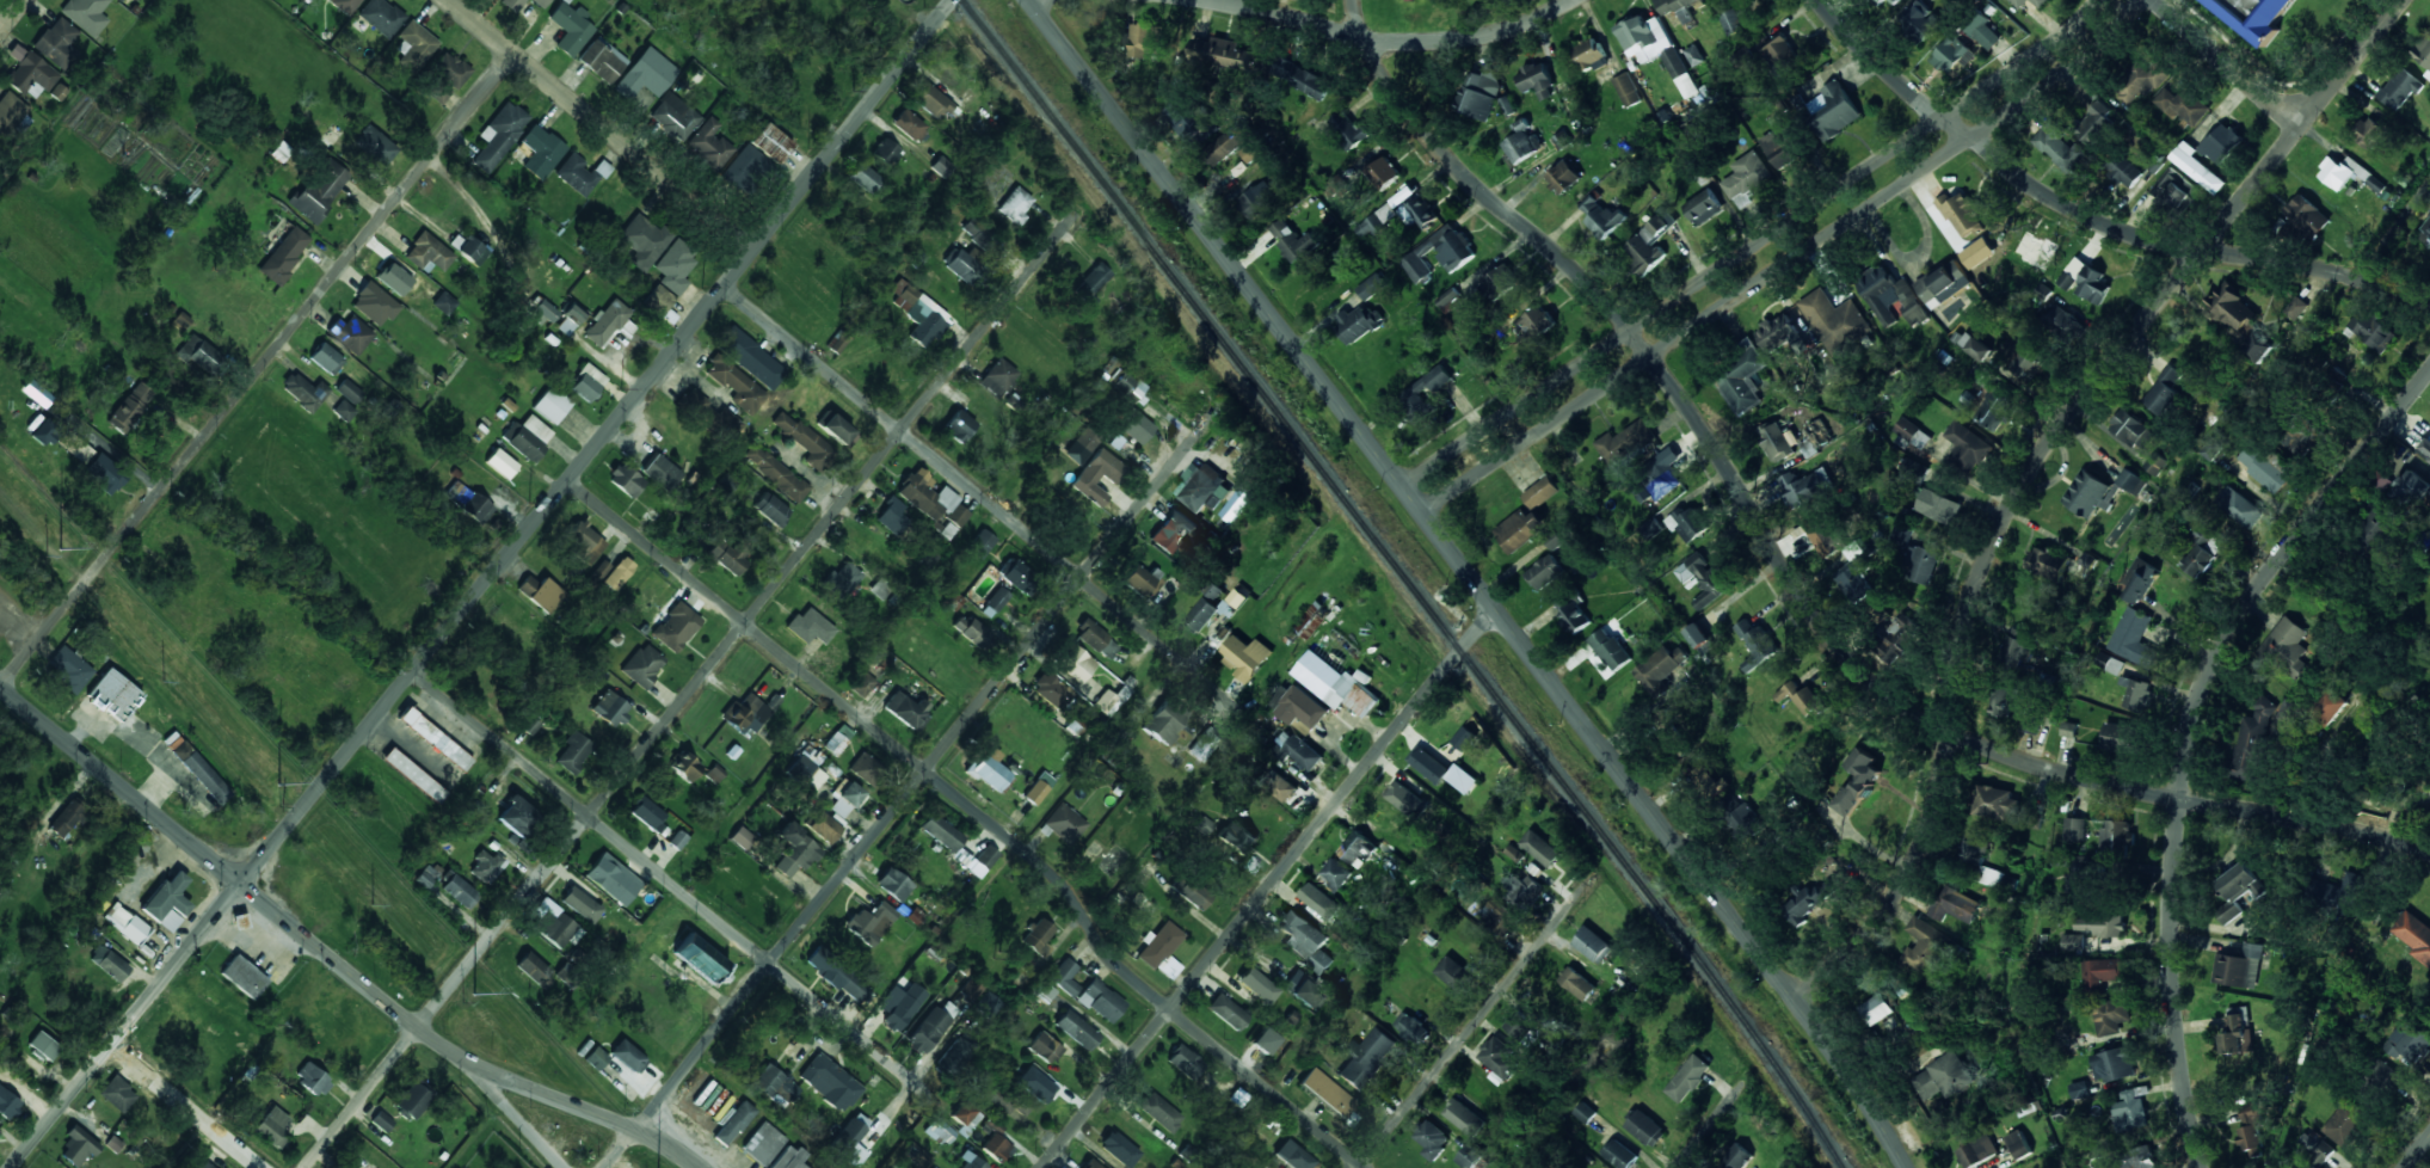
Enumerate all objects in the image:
building: (118, 0)
building: (1881, 0)
building: (1894, 1)
building: (541, 2)
road: (1039, 2)
building: (2019, 2)
building: (2038, 2)
building: (345, 5)
building: (512, 5)
building: (1678, 8)
building: (2264, 13)
building: (86, 14)
road: (13, 17)
building: (381, 17)
building: (1921, 20)
building: (1731, 21)
road: (4, 23)
building: (571, 29)
building: (1983, 31)
building: (1146, 39)
road: (1385, 39)
building: (57, 43)
building: (416, 47)
building: (1655, 48)
building: (2423, 50)
building: (1220, 51)
building: (1782, 51)
building: (1589, 54)
building: (1694, 55)
building: (1952, 56)
building: (1742, 57)
building: (601, 61)
road: (2228, 63)
building: (645, 75)
building: (31, 76)
building: (448, 78)
building: (1302, 78)
building: (1537, 81)
building: (2140, 82)
building: (2401, 88)
building: (1628, 90)
building: (1479, 92)
building: (930, 102)
building: (2182, 105)
building: (1833, 110)
building: (10, 112)
building: (675, 117)
building: (1187, 121)
road: (601, 124)
building: (2096, 124)
building: (909, 125)
building: (1348, 130)
building: (2369, 133)
building: (499, 136)
building: (113, 142)
building: (771, 143)
building: (1228, 143)
building: (1522, 143)
building: (2221, 143)
building: (375, 146)
building: (710, 146)
building: (1780, 147)
building: (2062, 148)
building: (281, 150)
building: (537, 152)
building: (887, 152)
building: (1251, 152)
building: (941, 167)
building: (2197, 167)
building: (745, 168)
building: (2126, 170)
building: (1383, 172)
building: (2346, 173)
building: (580, 174)
building: (1563, 177)
building: (865, 178)
building: (1746, 178)
building: (1336, 186)
building: (320, 191)
building: (2176, 195)
building: (1259, 201)
building: (1014, 207)
building: (1703, 207)
building: (1417, 213)
building: (1961, 213)
building: (1601, 216)
road: (2093, 216)
building: (2307, 216)
building: (1377, 221)
building: (2428, 227)
building: (979, 232)
building: (2424, 236)
building: (1293, 240)
building: (644, 241)
building: (1647, 246)
road: (1751, 246)
building: (468, 250)
building: (282, 252)
building: (1439, 253)
building: (427, 254)
road: (1790, 263)
building: (962, 265)
building: (675, 268)
building: (1091, 282)
building: (1499, 282)
building: (2086, 282)
building: (1943, 283)
building: (401, 284)
building: (1371, 285)
building: (904, 297)
building: (1891, 297)
building: (1450, 300)
building: (444, 303)
building: (374, 305)
building: (2232, 307)
building: (2296, 307)
building: (542, 313)
building: (572, 315)
building: (925, 320)
building: (1834, 320)
building: (180, 321)
building: (607, 322)
building: (1358, 324)
building: (2067, 325)
building: (1534, 326)
building: (2374, 330)
building: (1777, 332)
building: (350, 334)
building: (1974, 345)
building: (2256, 348)
building: (202, 355)
building: (749, 357)
building: (326, 358)
building: (2025, 361)
road: (257, 370)
building: (998, 377)
building: (1743, 377)
building: (587, 383)
building: (734, 385)
building: (1417, 389)
building: (2167, 391)
building: (304, 392)
building: (349, 392)
building: (552, 405)
building: (130, 407)
building: (1995, 408)
building: (344, 411)
building: (712, 416)
building: (1133, 425)
building: (958, 426)
building: (836, 430)
building: (2133, 430)
building: (47, 431)
building: (2307, 432)
building: (1913, 434)
building: (527, 437)
building: (1815, 437)
building: (1087, 439)
building: (804, 441)
building: (1624, 442)
building: (1774, 442)
building: (1968, 445)
building: (2215, 448)
building: (76, 449)
building: (2425, 449)
building: (500, 463)
building: (2265, 465)
building: (1915, 471)
road: (2035, 471)
building: (662, 472)
building: (775, 473)
building: (105, 474)
building: (1097, 477)
building: (1660, 477)
building: (626, 480)
building: (2131, 481)
building: (1803, 486)
building: (1205, 490)
building: (2411, 490)
building: (1540, 492)
building: (2091, 493)
road: (984, 499)
building: (931, 500)
building: (1938, 506)
building: (2240, 506)
building: (476, 509)
building: (770, 509)
building: (891, 517)
building: (2376, 523)
building: (1687, 524)
building: (1519, 529)
building: (1173, 530)
building: (1823, 537)
building: (1554, 540)
building: (586, 543)
building: (980, 543)
power tower: (60, 551)
building: (2198, 551)
building: (728, 555)
building: (2048, 563)
building: (1923, 565)
building: (1545, 572)
building: (617, 573)
road: (1790, 573)
building: (1016, 576)
building: (1139, 578)
road: (1474, 578)
building: (1704, 579)
building: (2140, 580)
building: (841, 582)
building: (1853, 582)
railway: (1407, 583)
road: (485, 584)
building: (880, 589)
building: (541, 594)
building: (996, 600)
building: (1232, 603)
building: (1201, 615)
building: (1573, 616)
building: (1314, 620)
building: (676, 627)
building: (808, 627)
building: (971, 631)
building: (1699, 638)
building: (2134, 638)
building: (1096, 640)
building: (1900, 640)
building: (1757, 645)
building: (2018, 647)
building: (2287, 647)
building: (1608, 648)
building: (1247, 657)
building: (1075, 664)
building: (642, 665)
building: (1661, 666)
building: (68, 670)
building: (863, 682)
building: (1336, 684)
road: (691, 689)
road: (1429, 689)
building: (1050, 691)
building: (2137, 694)
building: (113, 695)
building: (1801, 696)
building: (2004, 700)
building: (1105, 702)
building: (2331, 707)
building: (610, 708)
building: (1304, 708)
building: (905, 709)
building: (2289, 711)
building: (748, 714)
building: (1164, 721)
building: (2034, 723)
building: (530, 726)
building: (2069, 729)
building: (2121, 737)
road: (2189, 737)
building: (1464, 738)
building: (435, 739)
building: (838, 739)
building: (2251, 743)
building: (1204, 744)
building: (1297, 751)
building: (573, 752)
building: (684, 766)
building: (866, 769)
building: (199, 770)
building: (989, 770)
building: (1442, 770)
building: (413, 775)
building: (1859, 780)
building: (1703, 782)
road: (915, 785)
power tower: (278, 786)
building: (1280, 788)
building: (1038, 789)
building: (1407, 799)
building: (845, 800)
building: (1995, 803)
road: (979, 811)
building: (646, 813)
building: (516, 817)
building: (66, 819)
building: (1743, 819)
building: (1064, 823)
building: (824, 828)
building: (2074, 829)
building: (940, 832)
building: (2116, 835)
building: (1236, 837)
building: (740, 838)
building: (677, 841)
building: (1974, 846)
building: (1540, 848)
building: (1358, 849)
building: (795, 852)
building: (985, 857)
building: (2081, 865)
building: (485, 866)
building: (1335, 874)
building: (426, 877)
building: (1989, 877)
building: (613, 879)
road: (673, 885)
building: (893, 885)
building: (1520, 890)
building: (2239, 890)
building: (2339, 890)
building: (459, 892)
building: (1191, 893)
building: (1321, 900)
building: (167, 903)
building: (580, 904)
building: (1955, 905)
building: (125, 923)
building: (871, 923)
building: (554, 924)
building: (2100, 924)
building: (2414, 934)
building: (1036, 935)
building: (1305, 940)
building: (2072, 942)
building: (1594, 945)
building: (1157, 946)
building: (1923, 947)
building: (1042, 951)
road: (328, 955)
building: (700, 958)
building: (107, 964)
building: (2240, 967)
building: (534, 970)
road: (1202, 970)
building: (1452, 971)
building: (2102, 971)
building: (836, 973)
building: (244, 977)
building: (1065, 977)
building: (1577, 983)
building: (1257, 985)
building: (968, 990)
building: (1047, 991)
building: (1304, 991)
power tower: (474, 996)
building: (1100, 1001)
building: (986, 1004)
building: (900, 1006)
building: (1876, 1009)
building: (1226, 1012)
building: (2111, 1015)
road: (1479, 1019)
building: (1519, 1023)
building: (1411, 1027)
building: (930, 1028)
building: (1076, 1031)
building: (2237, 1034)
building: (2409, 1040)
building: (1263, 1041)
building: (43, 1046)
building: (1044, 1049)
building: (627, 1056)
building: (596, 1058)
building: (954, 1058)
building: (1366, 1058)
building: (1499, 1058)
building: (1185, 1062)
building: (2114, 1064)
building: (1944, 1076)
building: (1687, 1078)
building: (312, 1080)
building: (829, 1083)
building: (1034, 1084)
building: (2079, 1089)
building: (1328, 1094)
building: (117, 1095)
building: (412, 1101)
building: (7, 1105)
road: (186, 1106)
building: (2130, 1108)
road: (510, 1111)
building: (1159, 1112)
building: (1585, 1112)
building: (1465, 1117)
building: (965, 1118)
building: (382, 1121)
road: (1714, 1123)
building: (2345, 1123)
building: (733, 1124)
building: (271, 1126)
building: (1647, 1129)
building: (940, 1132)
building: (850, 1138)
building: (1433, 1139)
building: (2248, 1141)
building: (762, 1144)
building: (2019, 1144)
building: (78, 1147)
building: (996, 1147)
building: (1118, 1149)
building: (2315, 1150)
building: (1976, 1151)
road: (2417, 1151)
building: (1620, 1155)
building: (1292, 1156)
building: (1736, 1156)
building: (1471, 1157)
building: (2137, 1157)
building: (788, 1158)
building: (921, 1160)
building: (970, 1162)
building: (204, 1164)
building: (1090, 1164)

